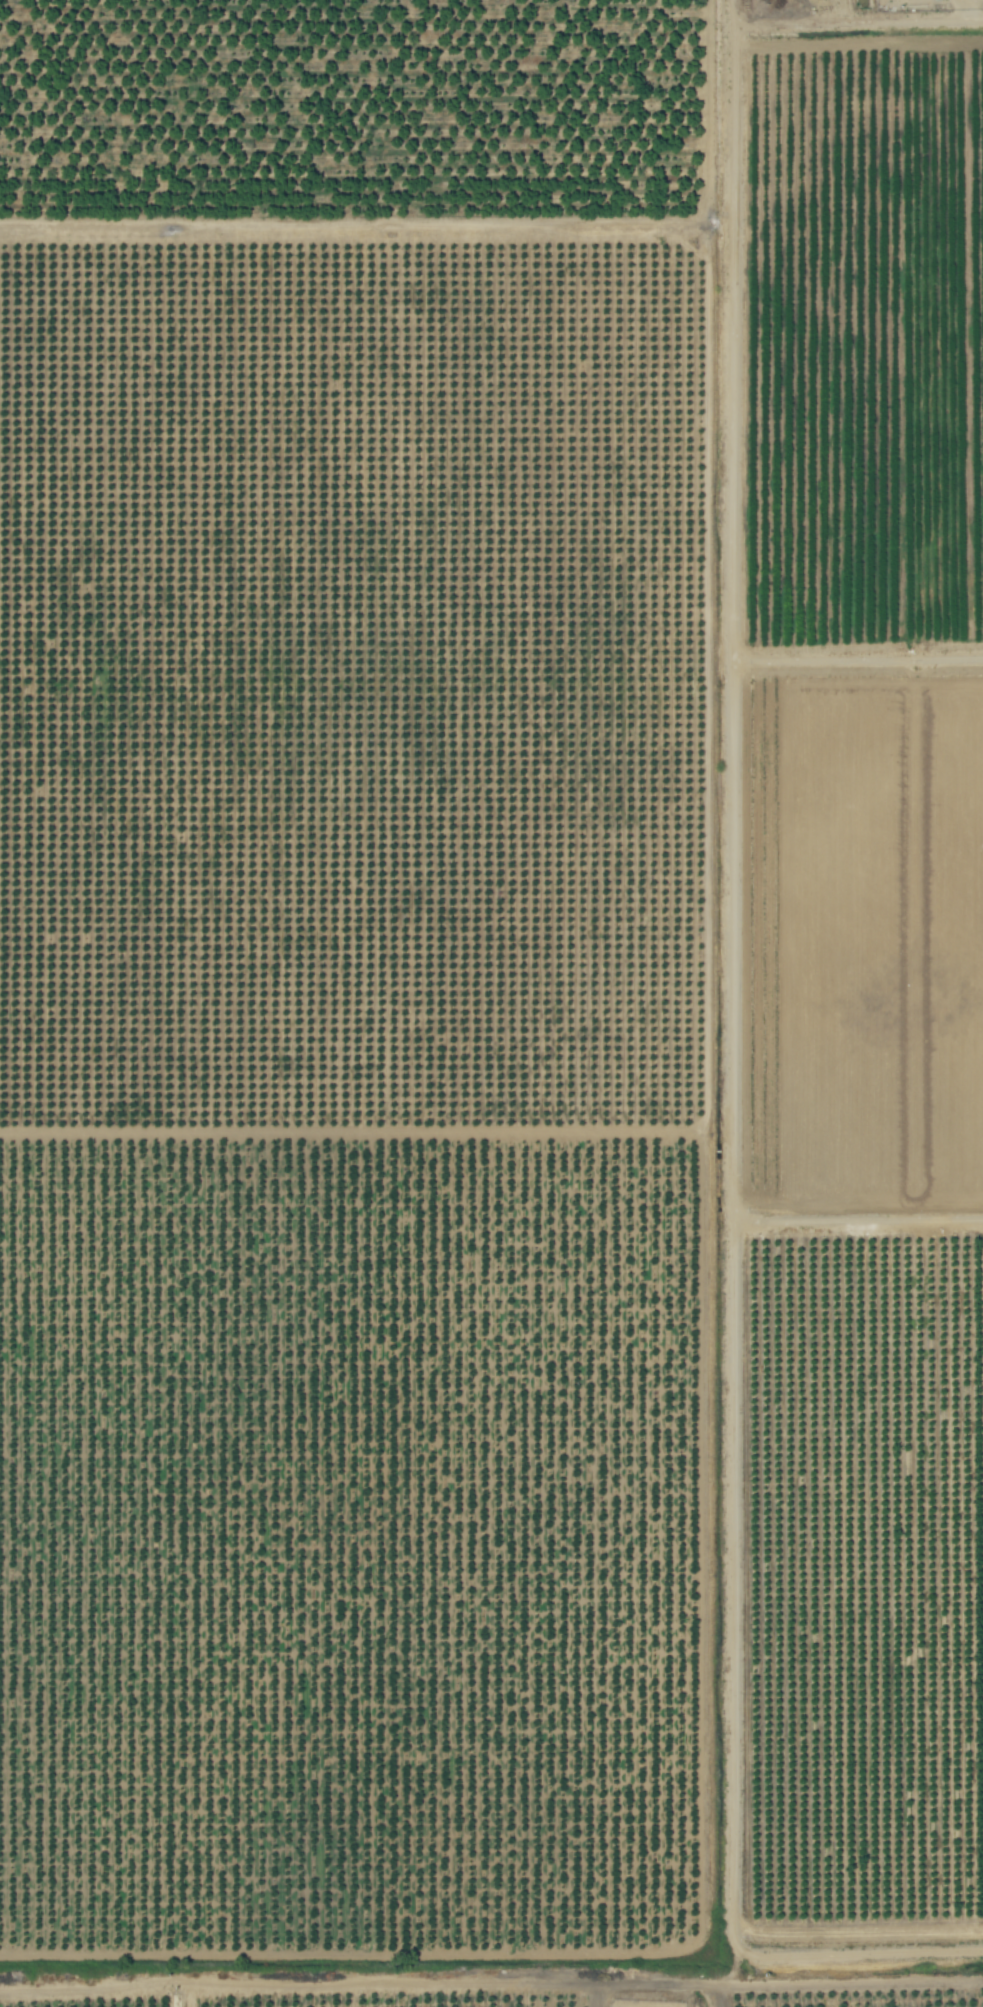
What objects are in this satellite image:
road: (353, 226)
railway: (756, 1003)

